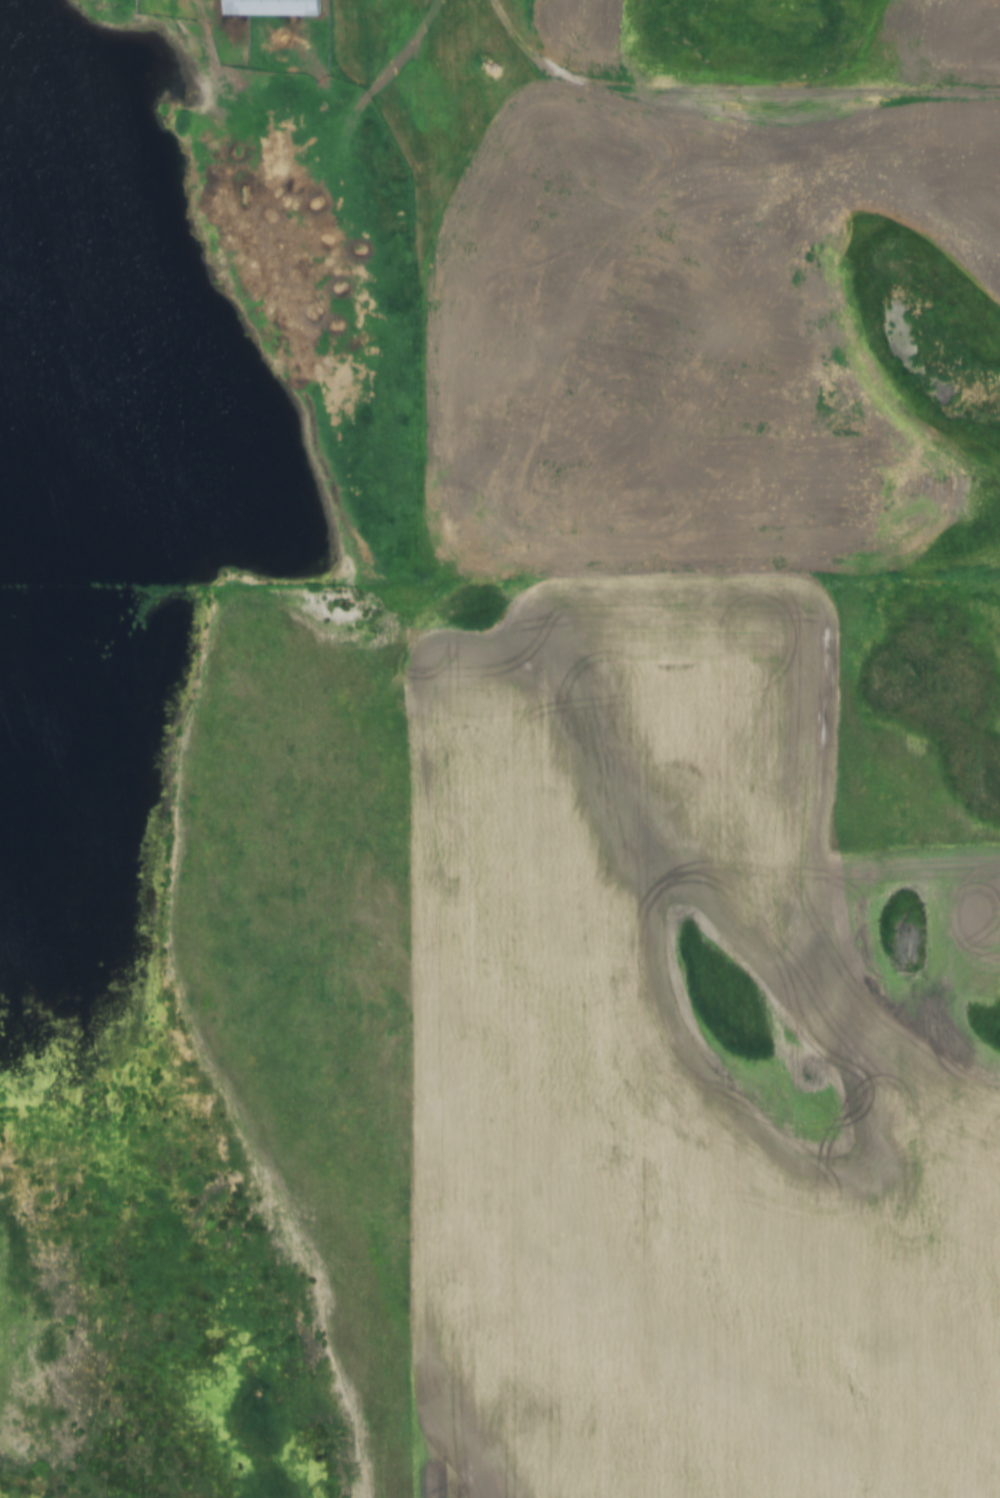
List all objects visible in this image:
building: (270, 7)
road: (730, 96)

